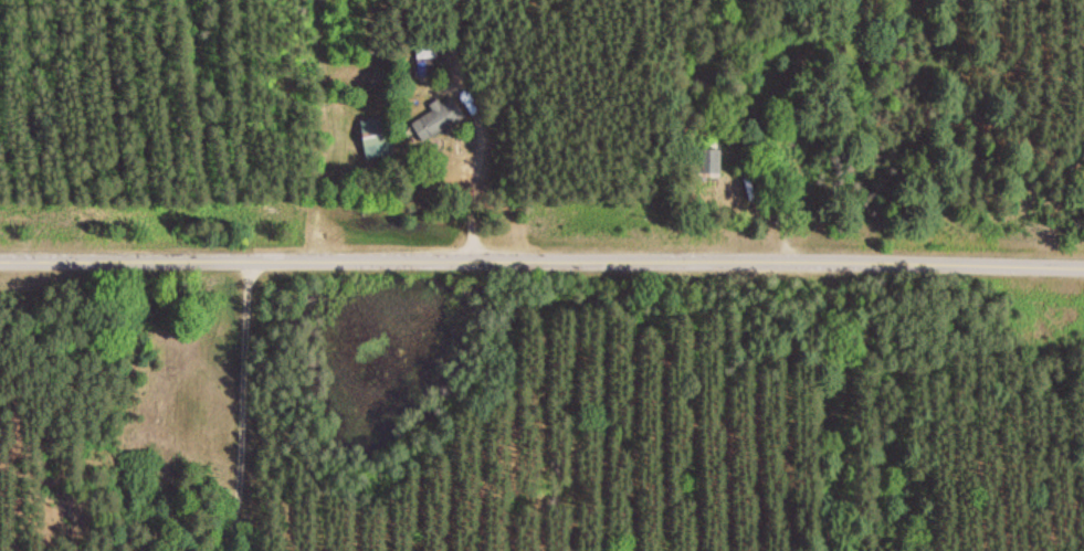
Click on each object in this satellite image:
building: (438, 119)
building: (379, 137)
building: (719, 160)
road: (541, 262)
road: (241, 405)

